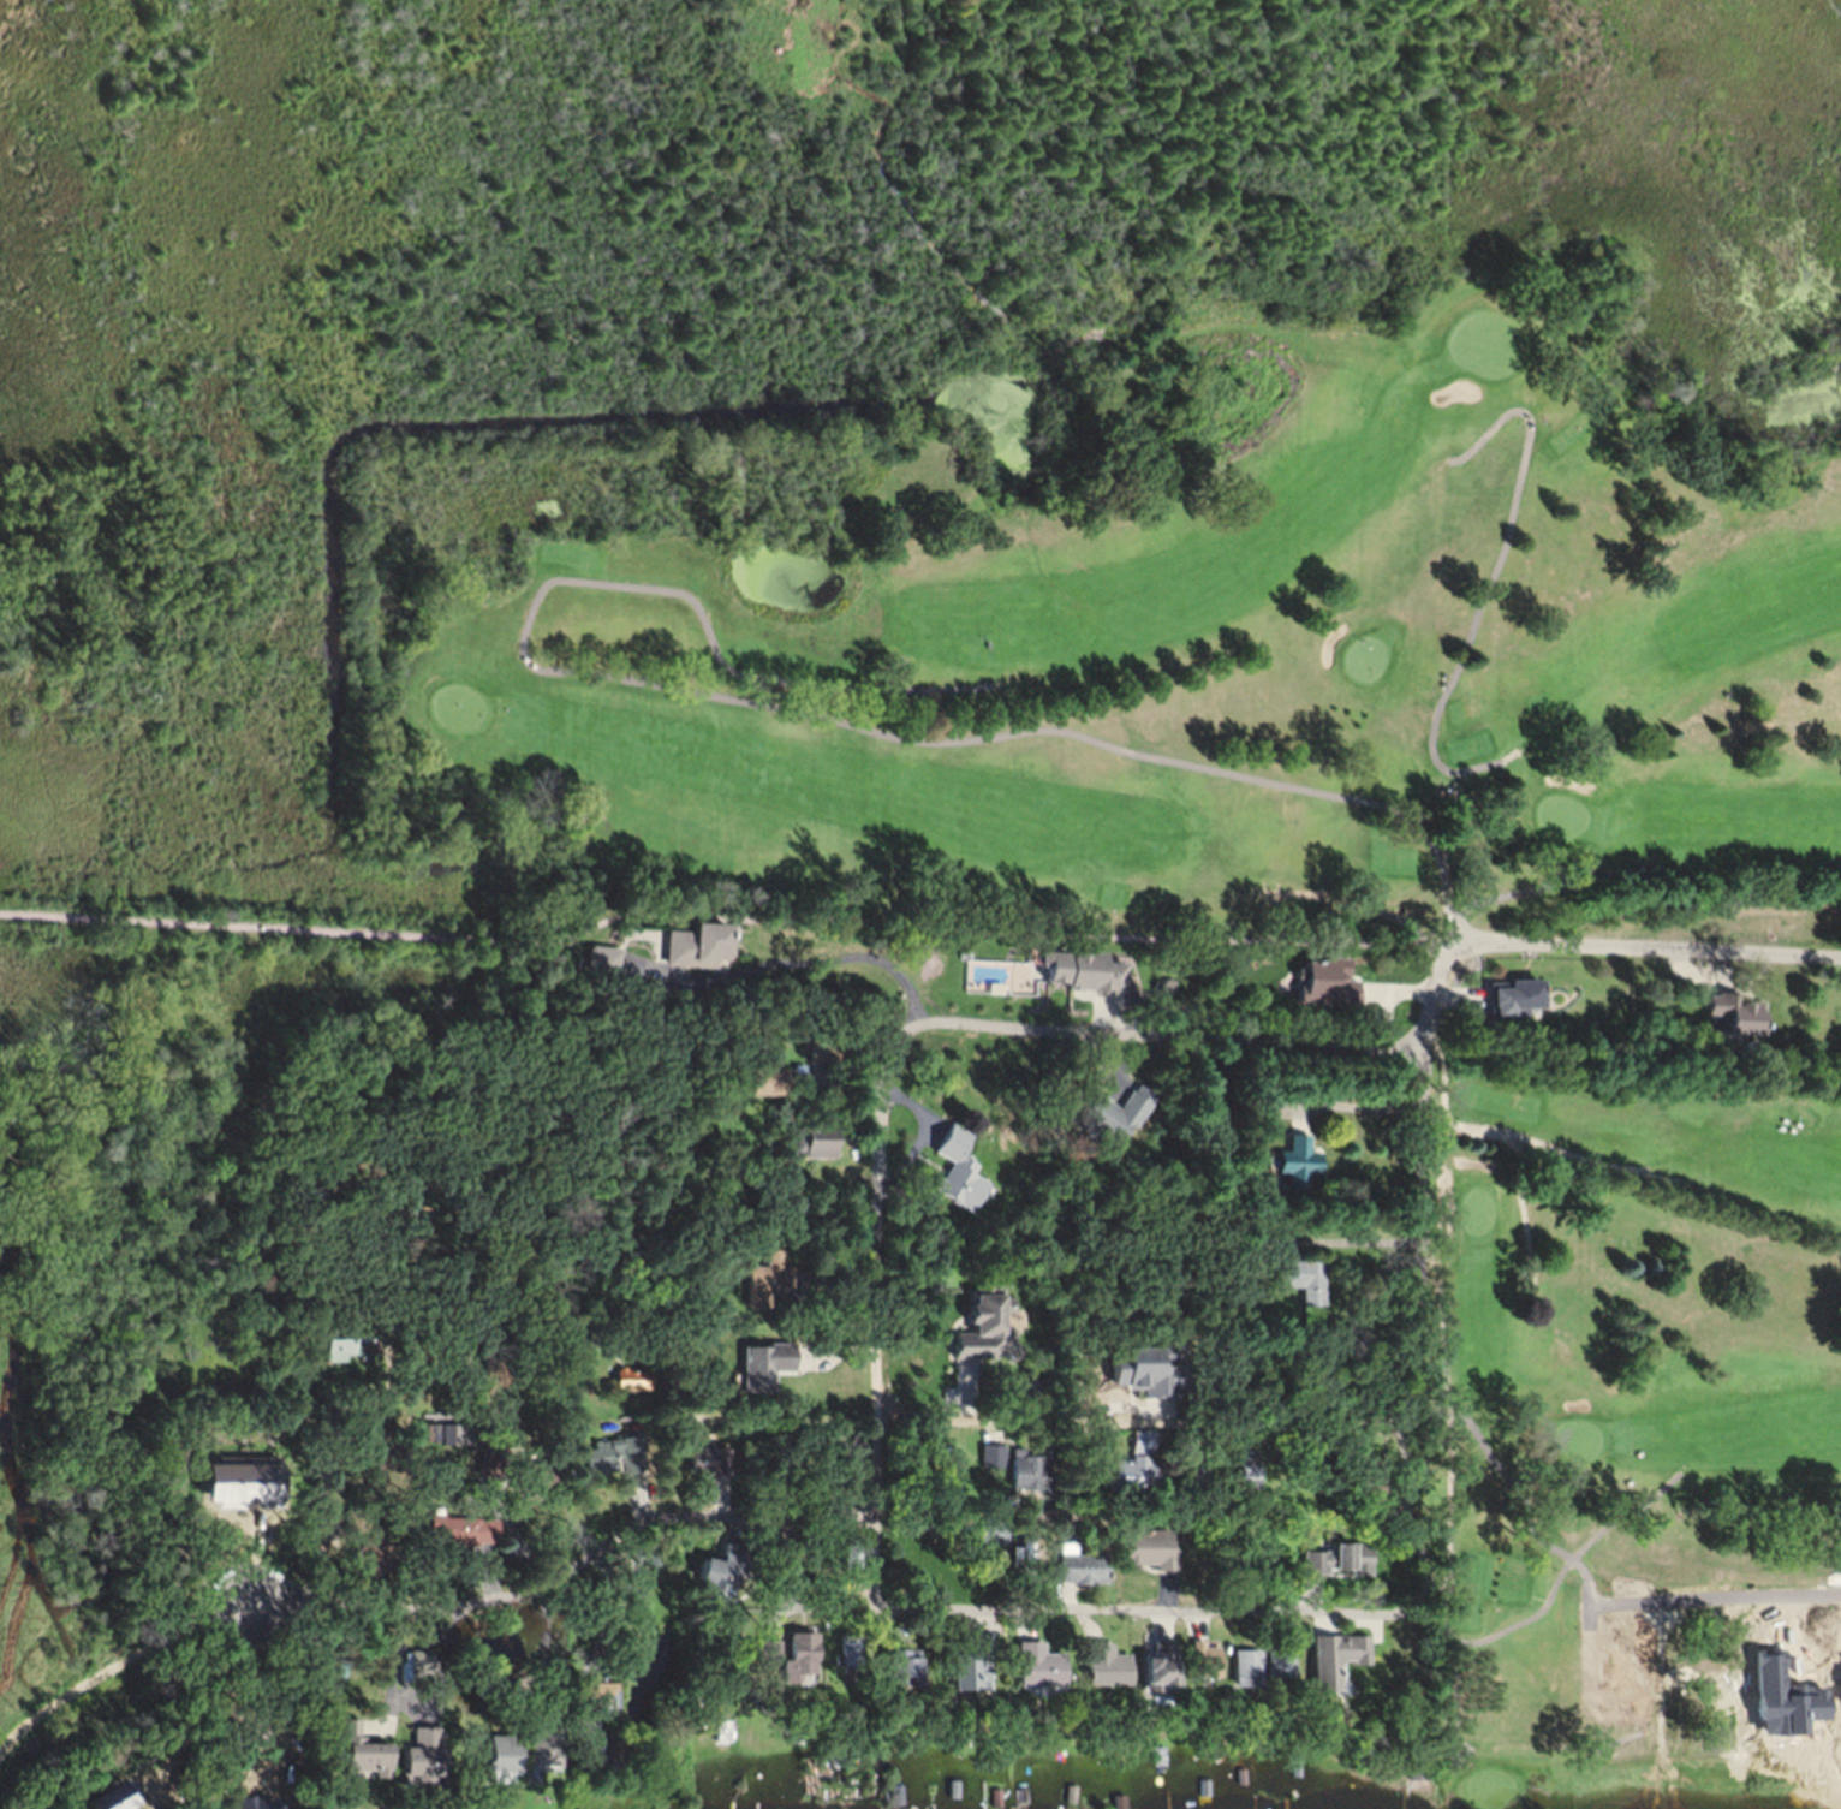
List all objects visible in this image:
road: (793, 953)
building: (698, 954)
building: (1078, 977)
building: (1325, 990)
building: (1514, 1007)
building: (1740, 1025)
road: (1108, 1036)
road: (1358, 1117)
building: (1102, 1119)
building: (817, 1152)
building: (1294, 1167)
building: (961, 1179)
road: (1350, 1242)
building: (1299, 1287)
road: (1419, 1319)
building: (979, 1333)
building: (770, 1371)
building: (1127, 1375)
road: (1142, 1426)
park: (1631, 1438)
building: (607, 1464)
building: (1023, 1481)
building: (1127, 1483)
building: (531, 1490)
road: (330, 1530)
building: (461, 1540)
building: (1137, 1557)
building: (1325, 1566)
building: (1023, 1573)
building: (1078, 1576)
building: (717, 1585)
road: (1712, 1593)
road: (425, 1612)
road: (1154, 1613)
building: (1197, 1667)
building: (1329, 1667)
building: (1270, 1668)
building: (1097, 1673)
building: (1030, 1674)
building: (1149, 1674)
building: (895, 1676)
building: (1237, 1676)
building: (965, 1680)
building: (601, 1704)
building: (365, 1765)

